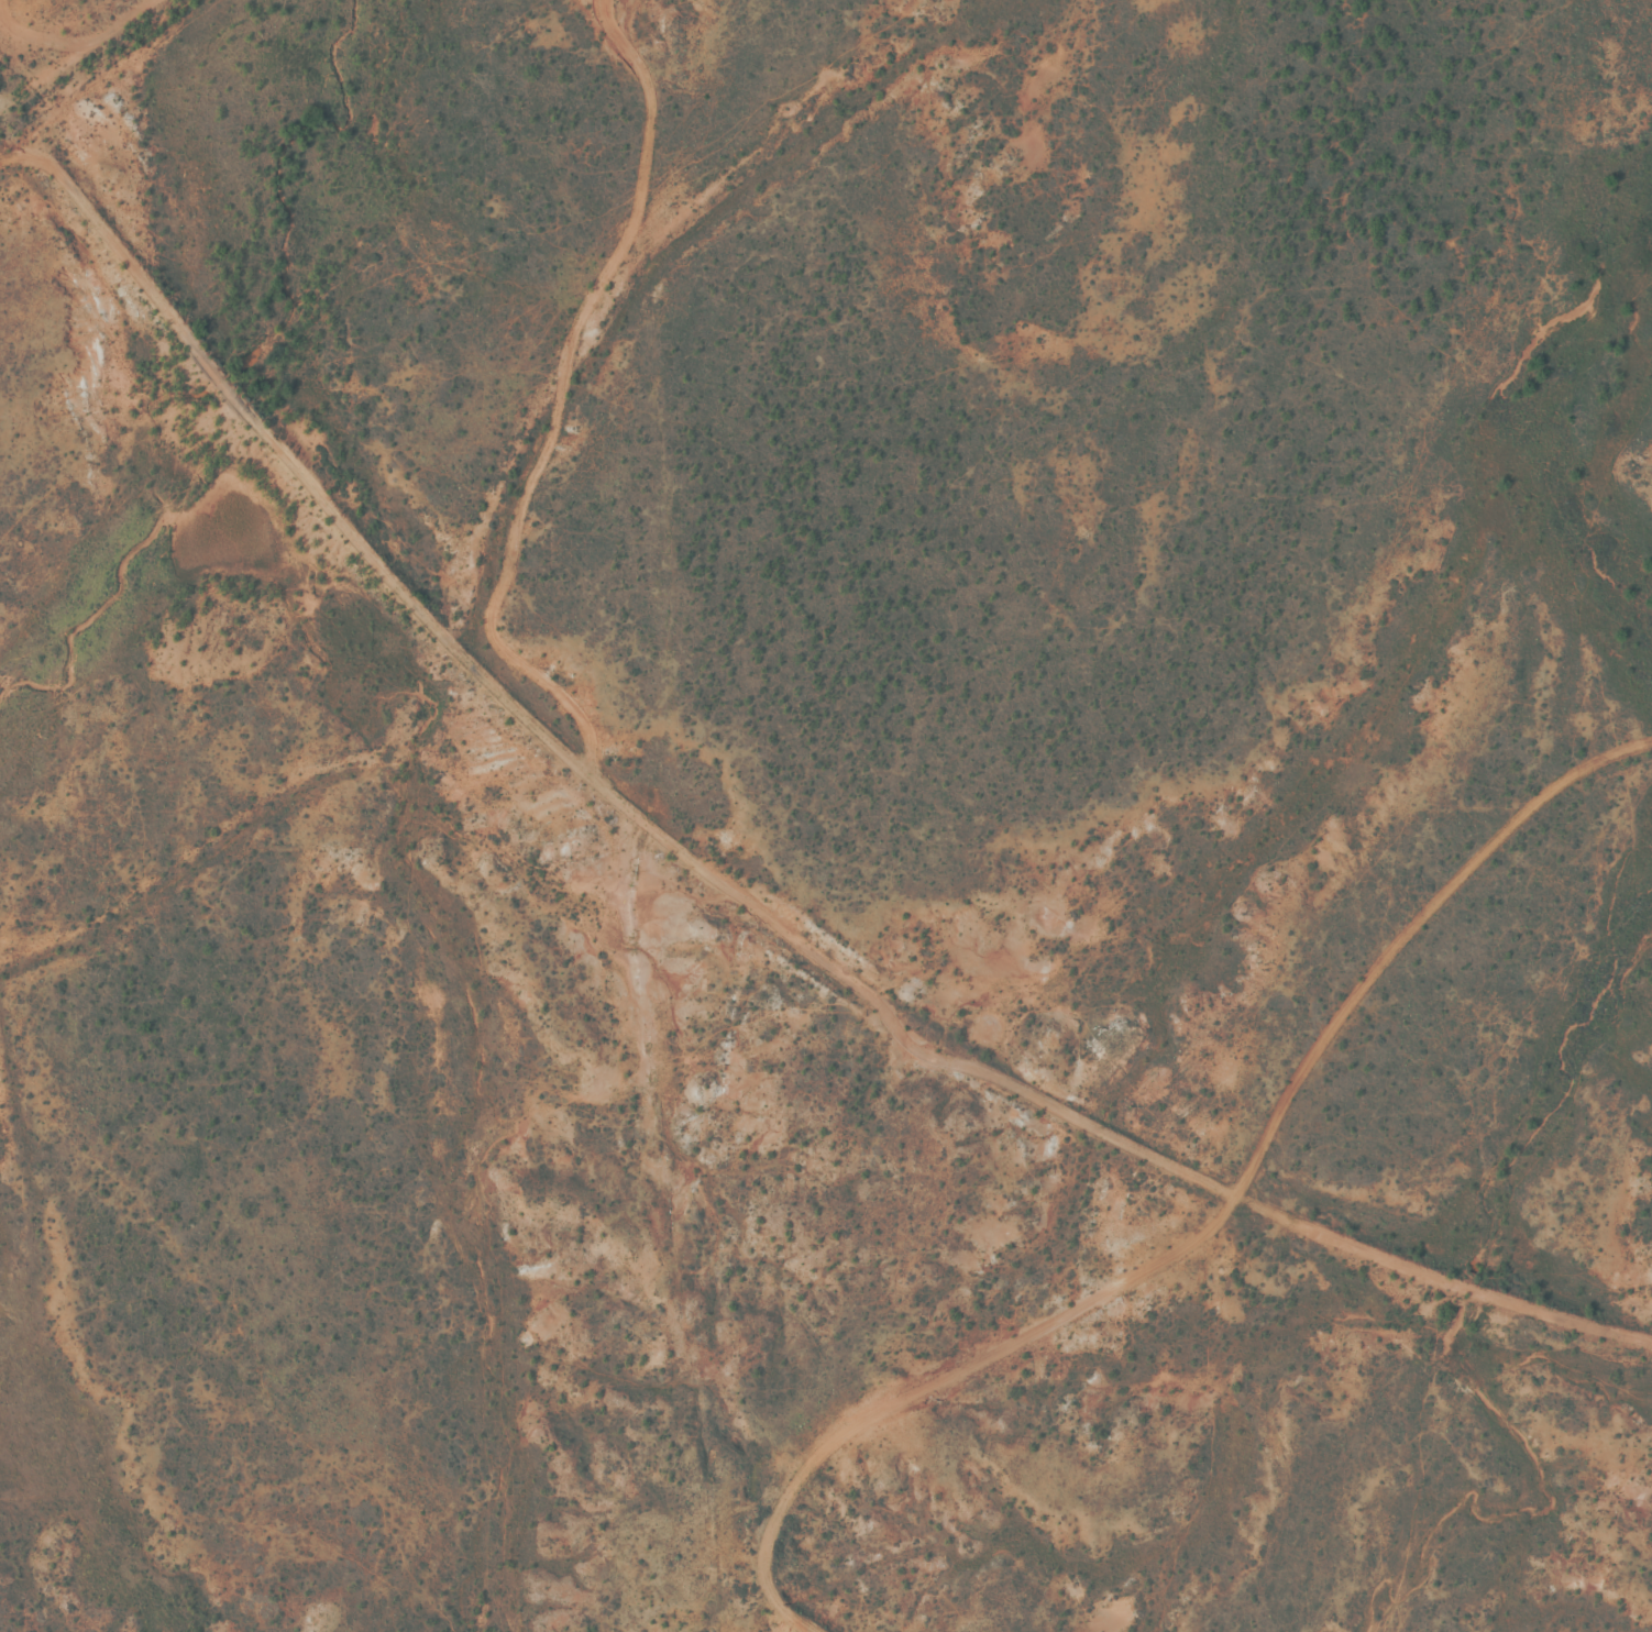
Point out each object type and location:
railway: (96, 65)
railway: (700, 880)
road: (1214, 1224)

